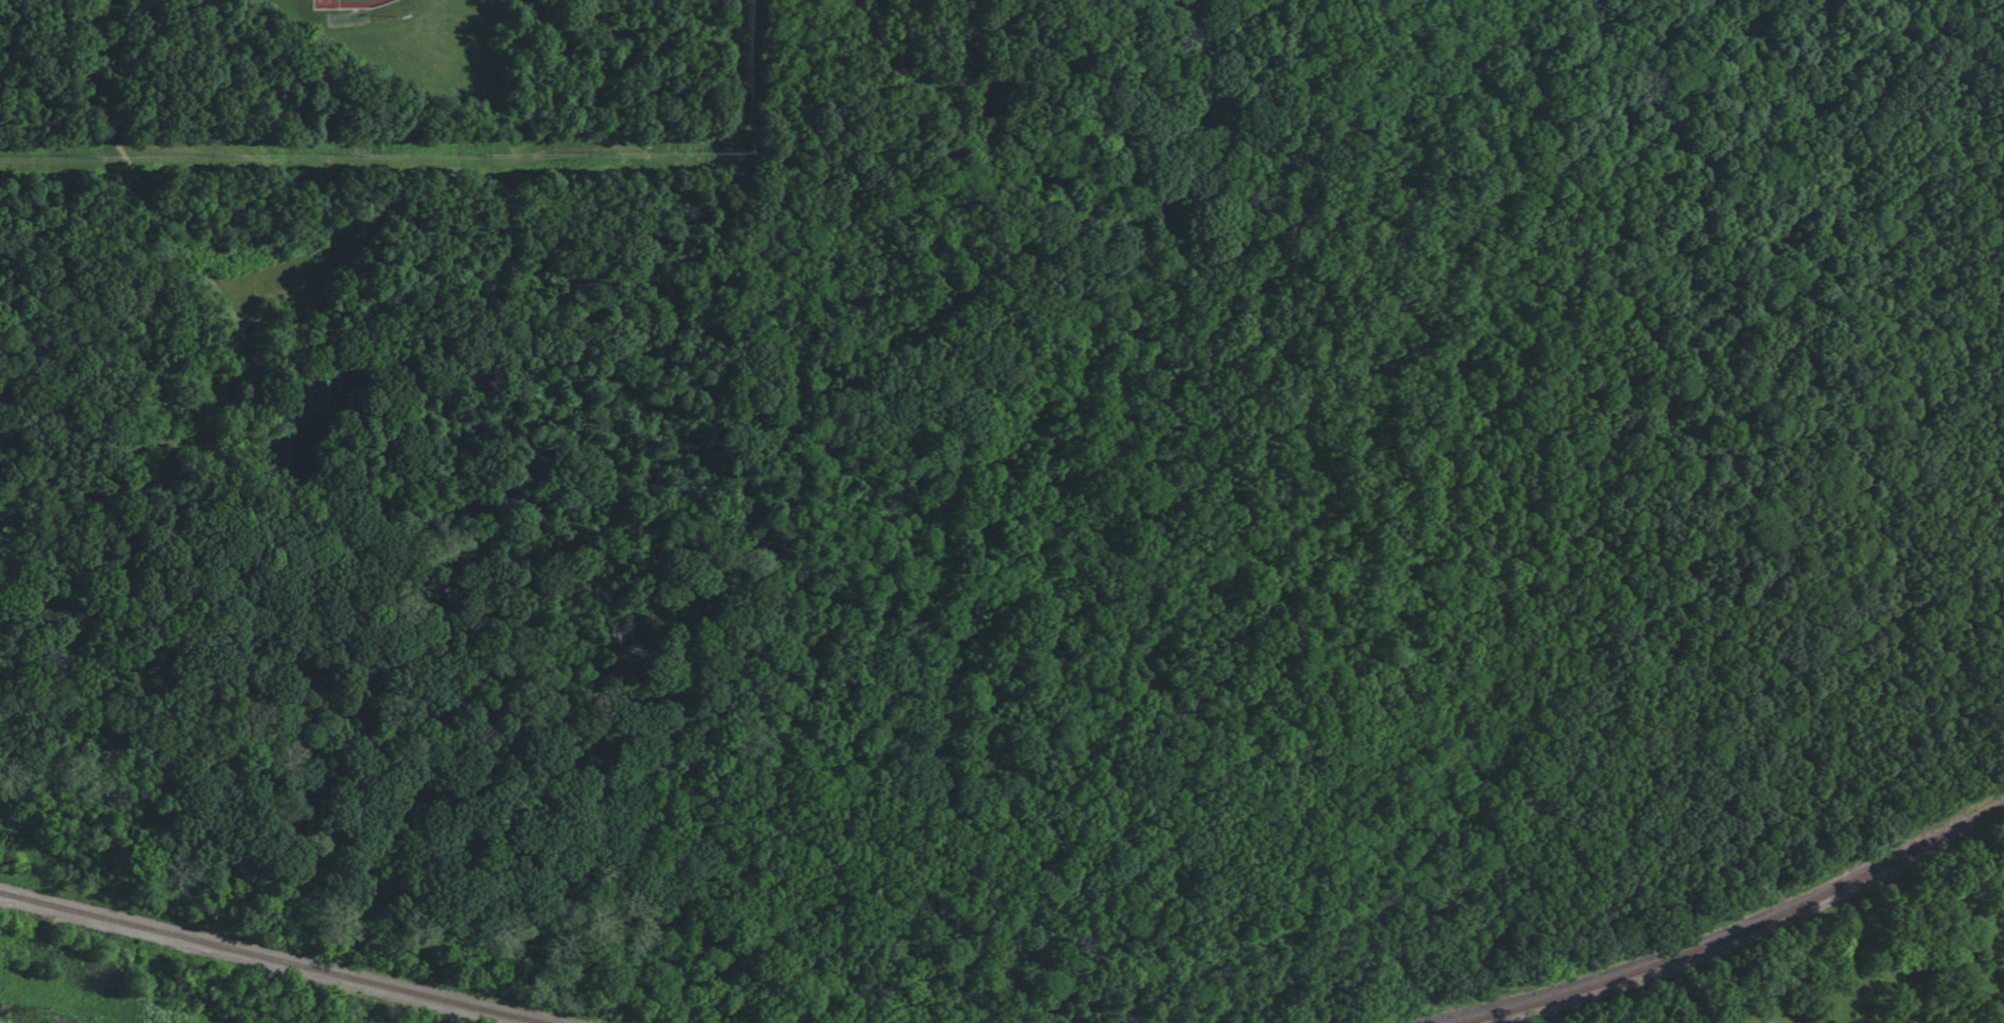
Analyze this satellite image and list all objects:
park: (352, 4)
road: (320, 161)
road: (64, 168)
road: (75, 276)
road: (177, 318)
park: (433, 487)
road: (116, 492)
road: (510, 573)
road: (581, 851)
railway: (1734, 931)
railway: (268, 957)

